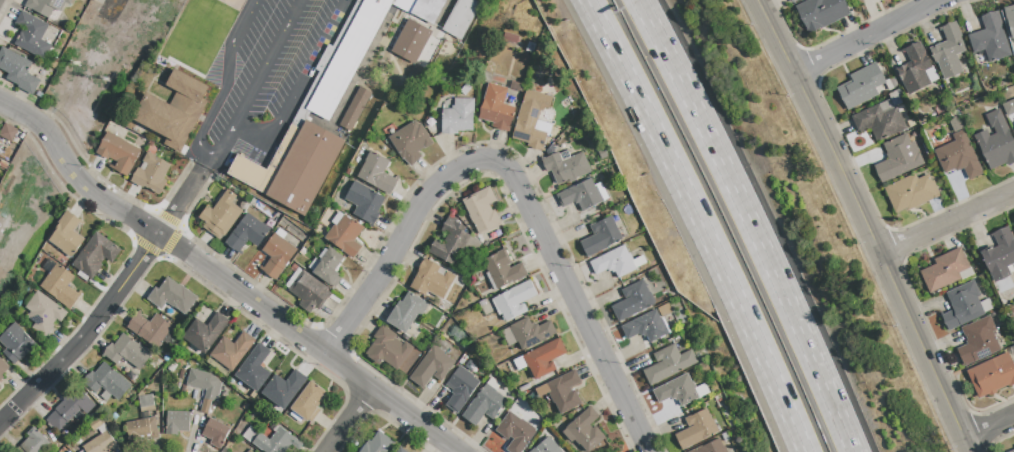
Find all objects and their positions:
building: (793, 1)
building: (46, 6)
building: (820, 13)
building: (460, 18)
building: (1010, 18)
building: (32, 36)
road: (864, 36)
building: (511, 38)
building: (989, 38)
building: (411, 42)
building: (947, 50)
power tower: (81, 64)
road: (265, 64)
building: (915, 69)
building: (18, 71)
road: (226, 74)
road: (304, 74)
power tower: (111, 77)
building: (859, 86)
building: (1008, 107)
building: (497, 108)
building: (355, 109)
building: (323, 110)
building: (174, 111)
building: (458, 117)
building: (878, 119)
building: (532, 120)
building: (1013, 128)
building: (8, 133)
road: (250, 140)
building: (411, 142)
building: (995, 142)
road: (225, 146)
building: (118, 153)
road: (205, 155)
building: (957, 156)
building: (897, 158)
building: (565, 167)
building: (377, 173)
building: (152, 174)
building: (909, 192)
building: (582, 194)
road: (184, 195)
building: (366, 202)
building: (482, 211)
building: (221, 215)
road: (700, 223)
road: (752, 223)
road: (946, 223)
road: (865, 224)
building: (246, 233)
building: (67, 235)
building: (346, 235)
building: (600, 236)
road: (406, 237)
building: (452, 243)
building: (95, 255)
building: (277, 255)
building: (1000, 255)
building: (616, 262)
road: (138, 264)
building: (329, 266)
building: (504, 270)
building: (945, 270)
road: (221, 279)
building: (433, 280)
building: (59, 287)
building: (309, 292)
building: (172, 297)
building: (515, 301)
building: (632, 301)
building: (963, 305)
building: (407, 312)
building: (43, 313)
road: (579, 314)
building: (647, 324)
building: (151, 329)
building: (205, 332)
building: (527, 333)
building: (977, 341)
building: (16, 344)
building: (388, 349)
building: (232, 351)
building: (127, 352)
building: (540, 359)
road: (60, 362)
building: (667, 363)
building: (432, 367)
building: (2, 369)
building: (254, 369)
building: (991, 375)
building: (107, 382)
building: (204, 387)
building: (460, 388)
building: (284, 389)
building: (679, 390)
building: (560, 391)
building: (308, 401)
building: (484, 405)
building: (69, 409)
road: (341, 419)
building: (142, 422)
building: (176, 423)
building: (95, 424)
building: (695, 428)
road: (988, 428)
building: (584, 430)
building: (515, 432)
building: (215, 433)
building: (33, 442)
building: (276, 442)
building: (100, 444)
building: (378, 444)
building: (545, 446)
building: (711, 447)
building: (401, 450)
building: (1011, 450)
building: (250, 451)

